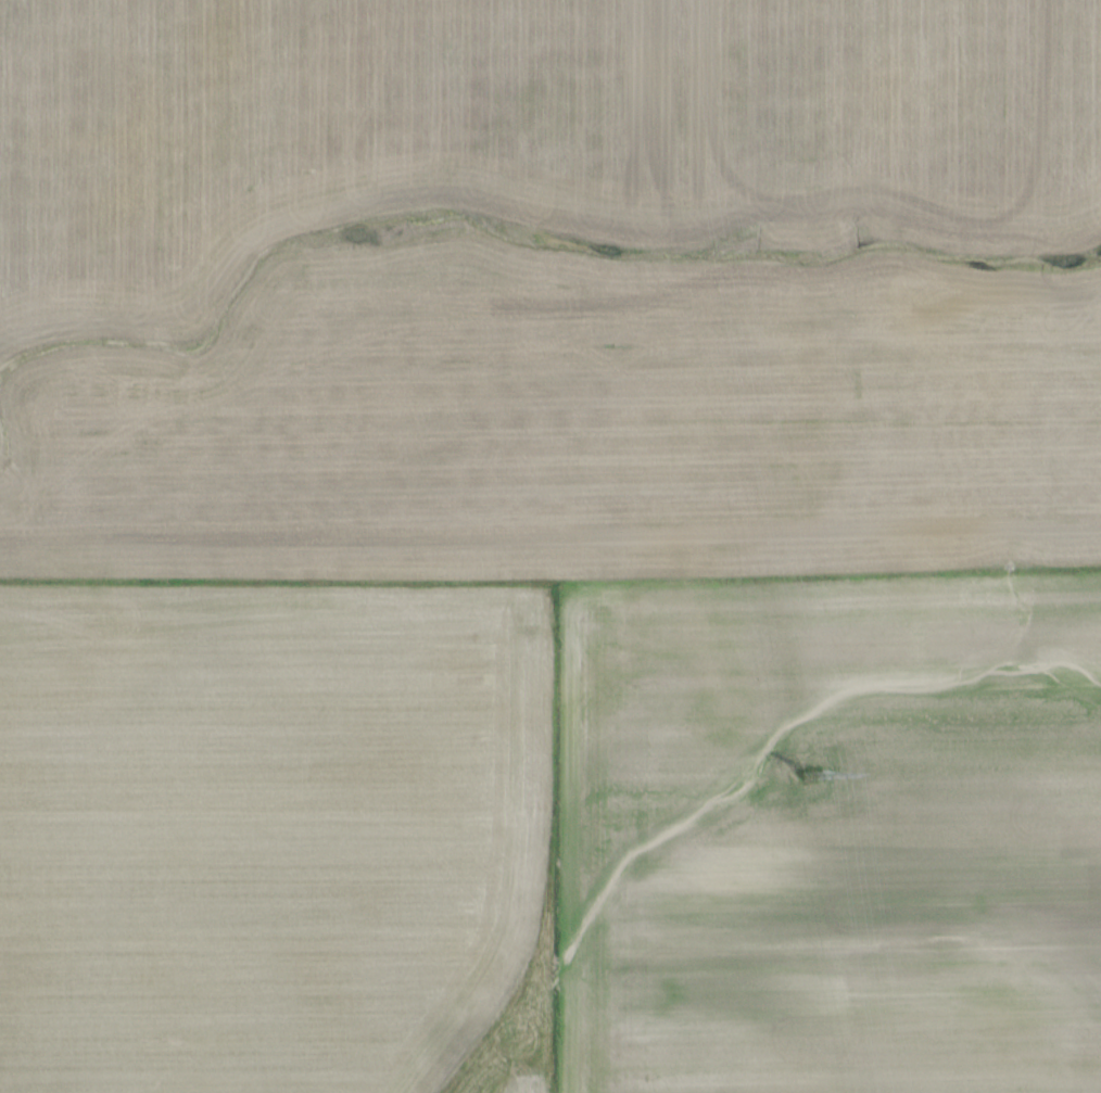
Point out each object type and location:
power tower: (817, 800)

